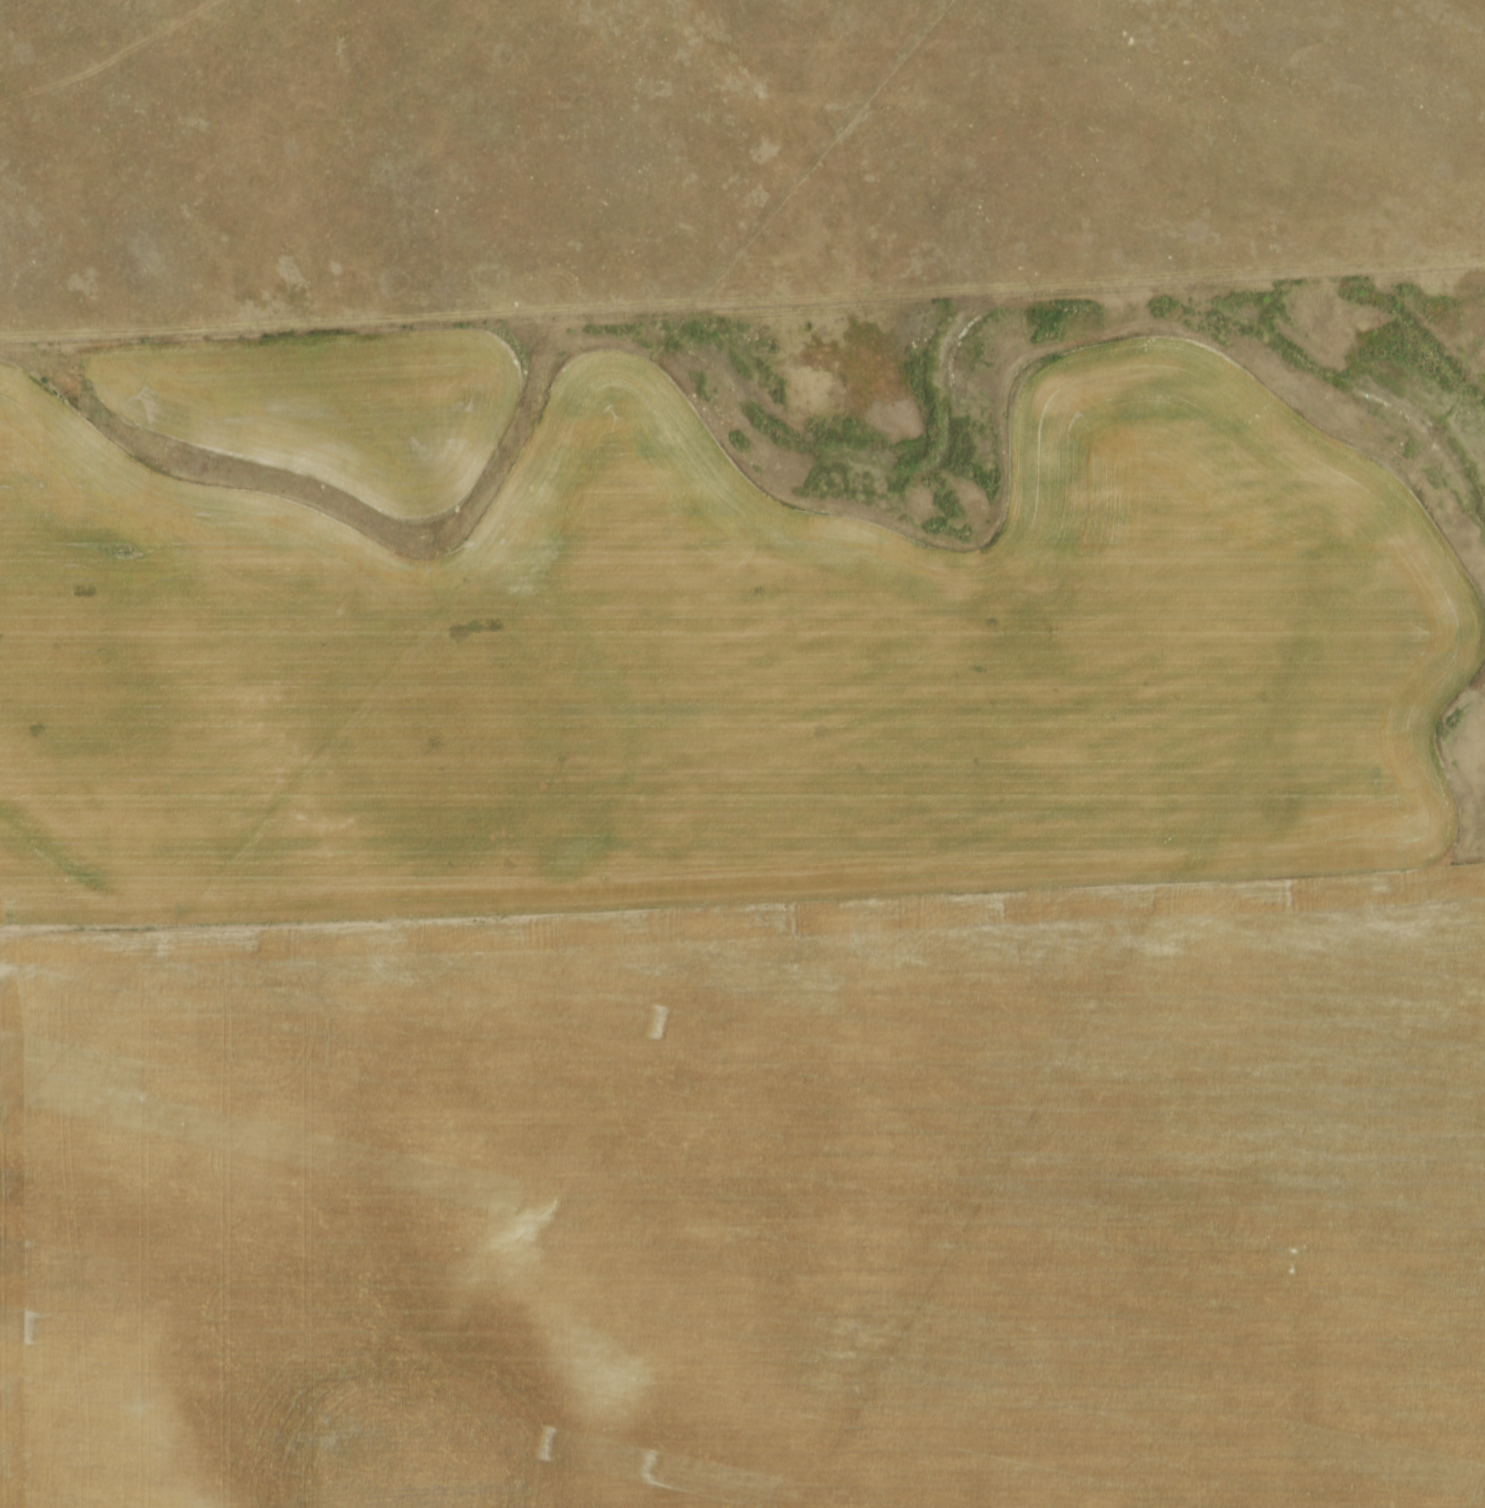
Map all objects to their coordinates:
crop: (723, 949)

